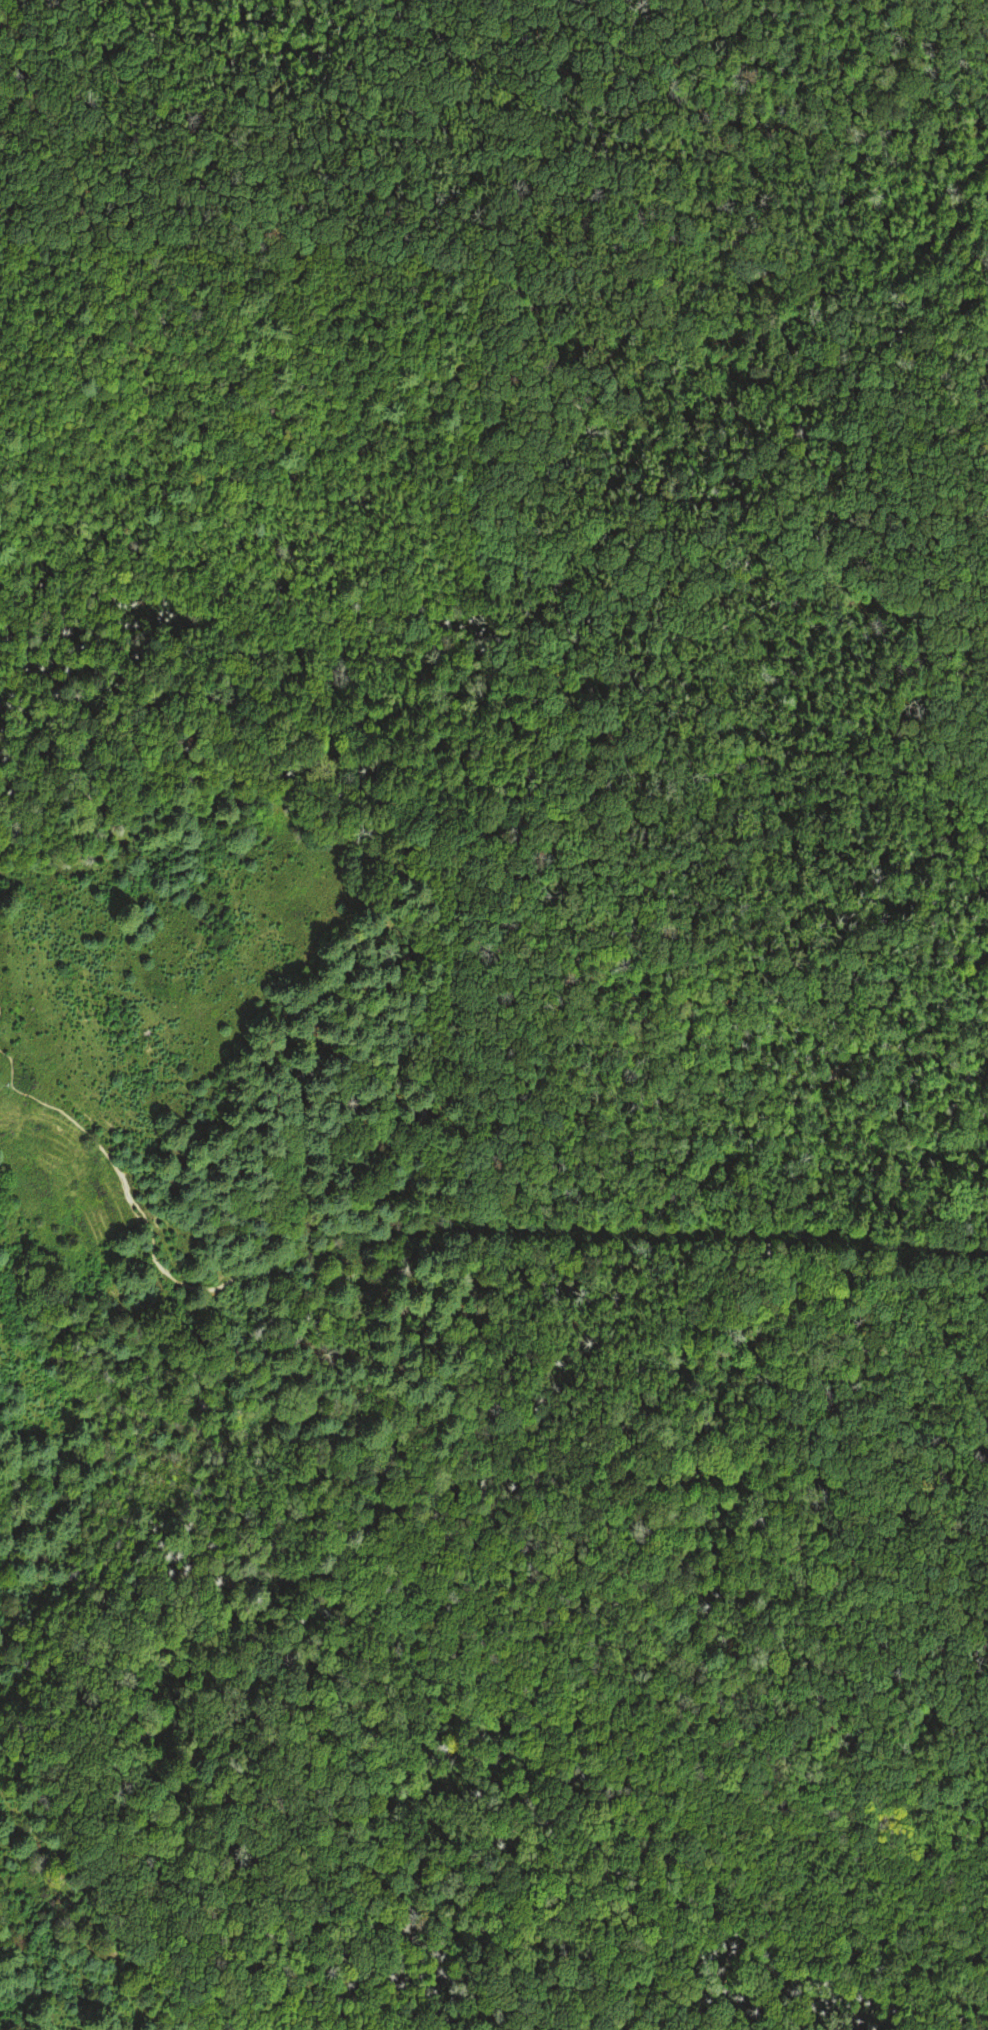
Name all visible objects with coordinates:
road: (7, 1082)
road: (672, 1200)
road: (166, 1271)
road: (937, 1335)
road: (325, 1441)
road: (898, 1457)
road: (11, 1535)
park: (914, 1639)

